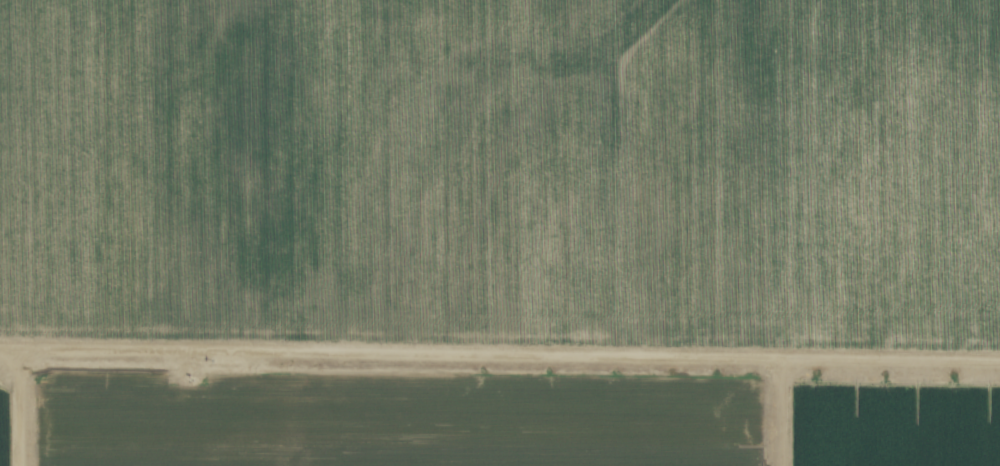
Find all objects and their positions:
crop: (500, 233)
road: (840, 358)

